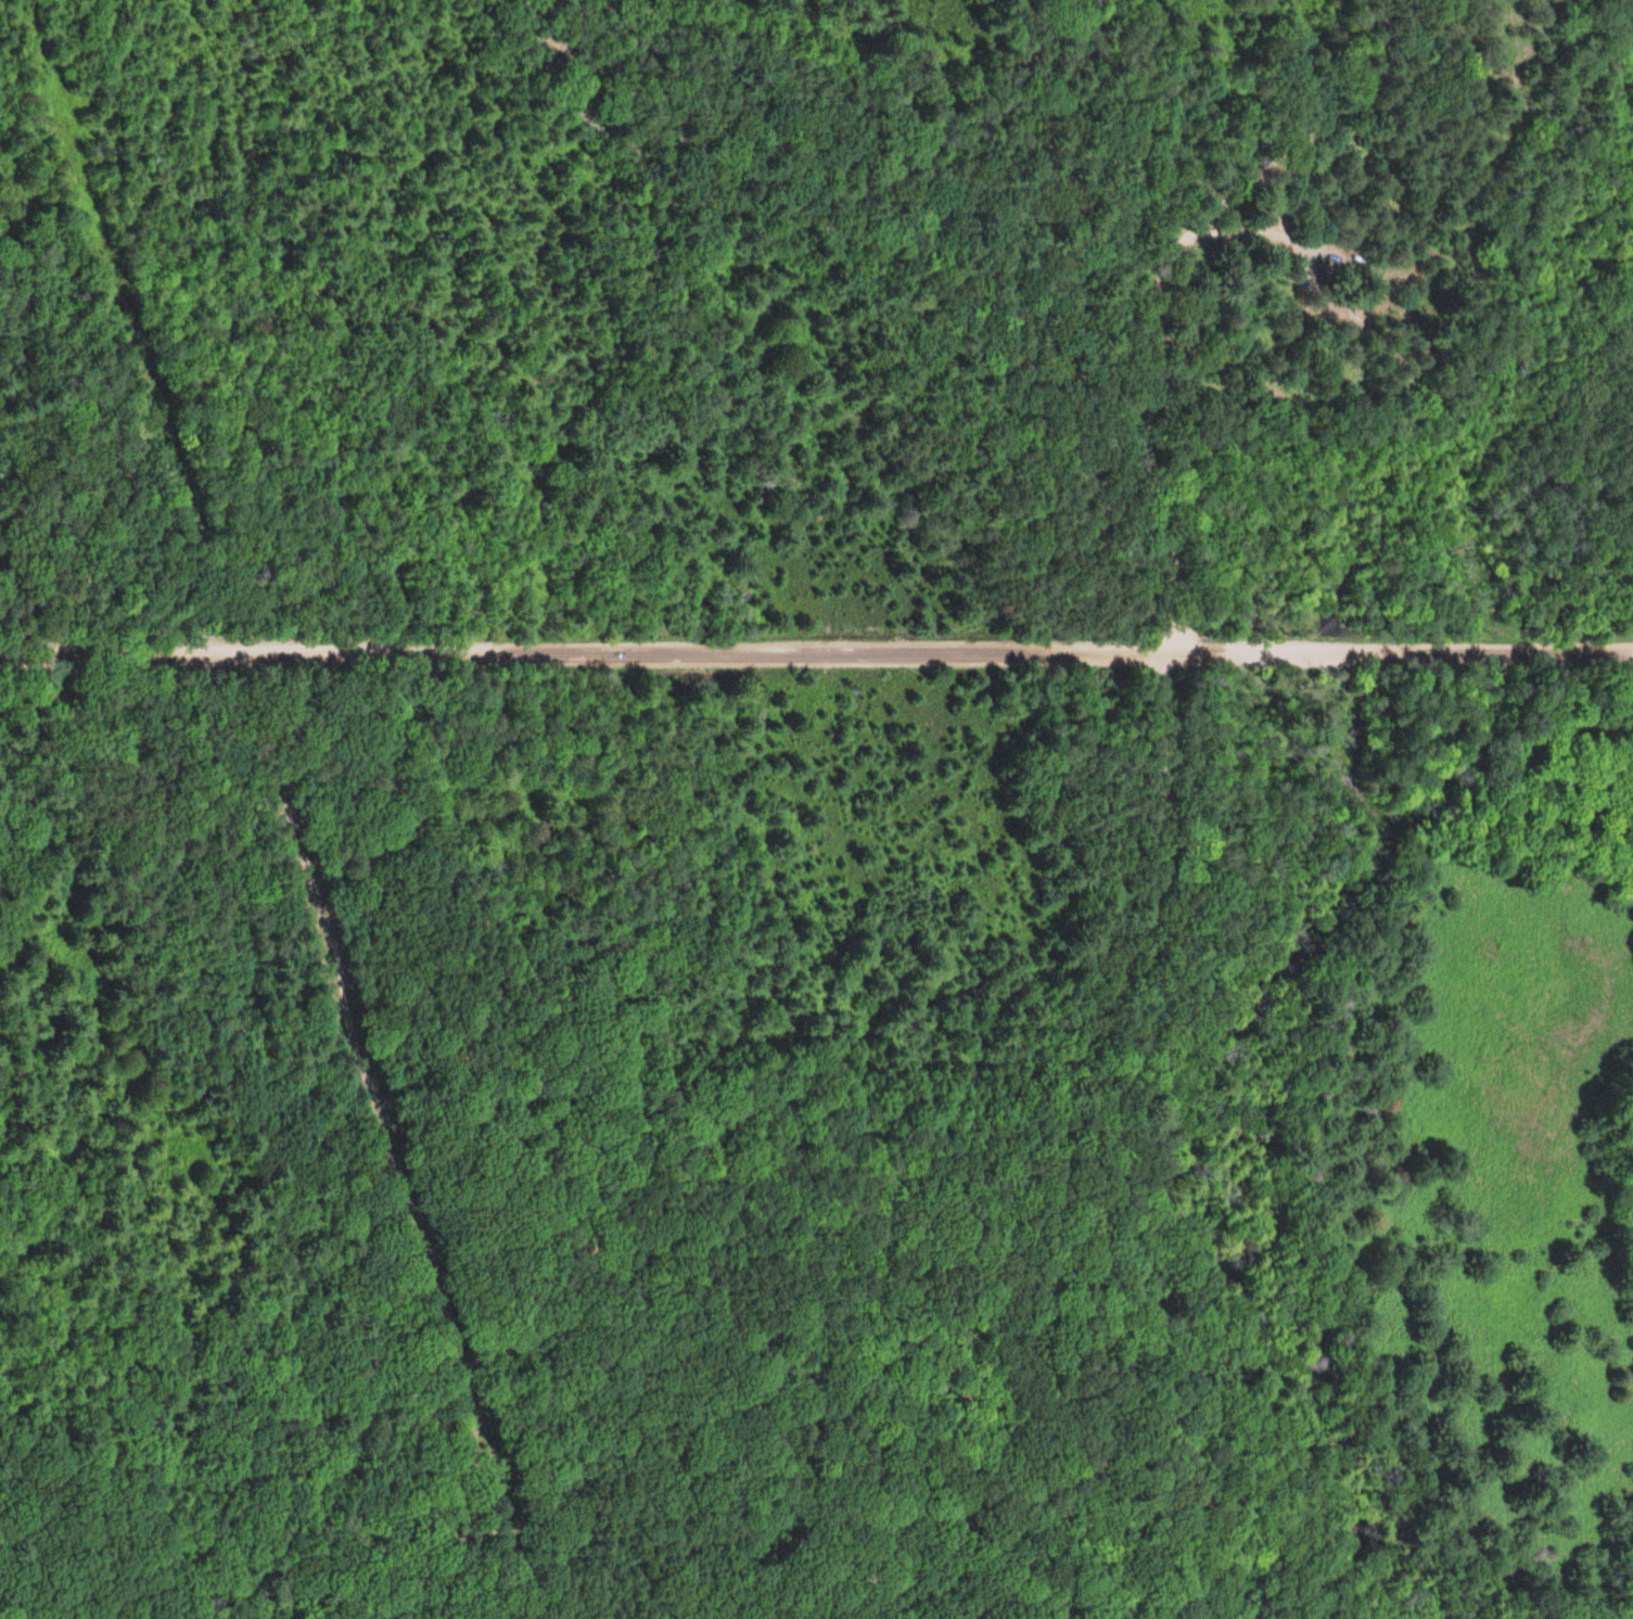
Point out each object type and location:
road: (1163, 277)
road: (816, 655)
road: (1059, 1042)
road: (767, 1495)

